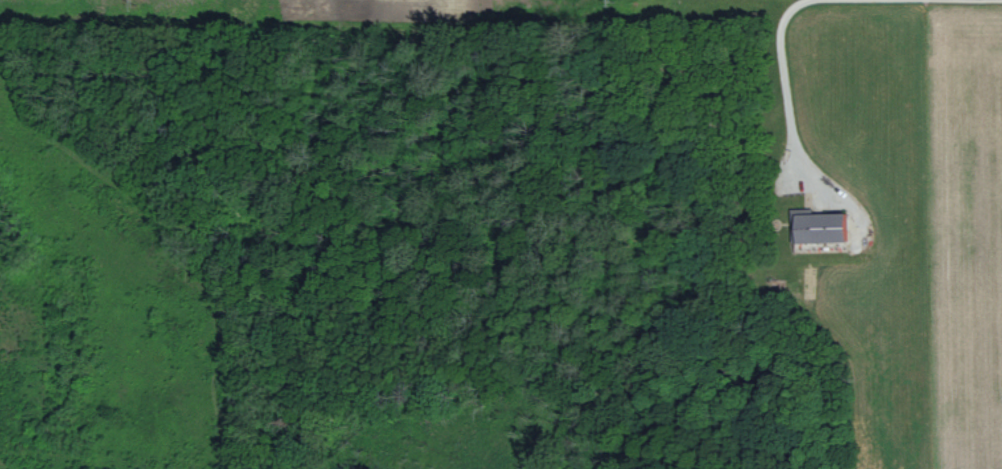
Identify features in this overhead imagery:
road: (784, 85)

